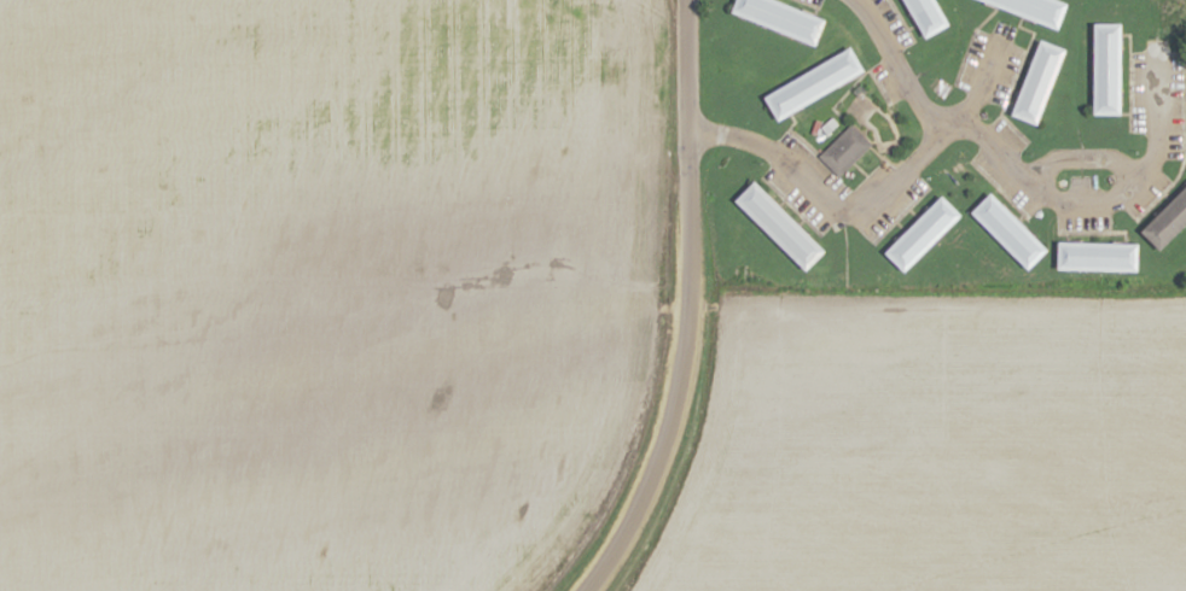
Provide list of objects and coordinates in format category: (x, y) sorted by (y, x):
road: (781, 0)
parking lot: (815, 1)
road: (806, 4)
building: (1037, 8)
building: (930, 14)
building: (783, 17)
road: (900, 19)
parking lot: (889, 21)
road: (912, 24)
parking lot: (1001, 29)
road: (970, 40)
parking lot: (1010, 40)
parking lot: (1156, 43)
parking lot: (969, 58)
road: (897, 65)
building: (1109, 68)
parking lot: (1004, 71)
road: (1013, 76)
road: (1128, 80)
building: (1040, 82)
building: (815, 83)
parking lot: (882, 83)
road: (850, 86)
road: (977, 86)
parking lot: (1138, 92)
parking lot: (1175, 103)
road: (1185, 105)
parking lot: (1007, 133)
road: (1184, 144)
road: (806, 146)
building: (844, 150)
road: (876, 152)
road: (1081, 157)
road: (857, 170)
parking lot: (1000, 182)
parking lot: (1080, 182)
road: (998, 189)
parking lot: (1147, 195)
road: (1168, 195)
road: (818, 197)
parking lot: (793, 200)
road: (790, 204)
parking lot: (890, 207)
road: (1092, 207)
road: (791, 210)
road: (912, 213)
road: (899, 216)
building: (1168, 220)
parking lot: (1081, 223)
building: (780, 226)
road: (899, 227)
building: (1010, 229)
road: (1087, 232)
building: (923, 233)
road: (1089, 238)
building: (1100, 256)
road: (681, 305)
crop: (930, 444)

